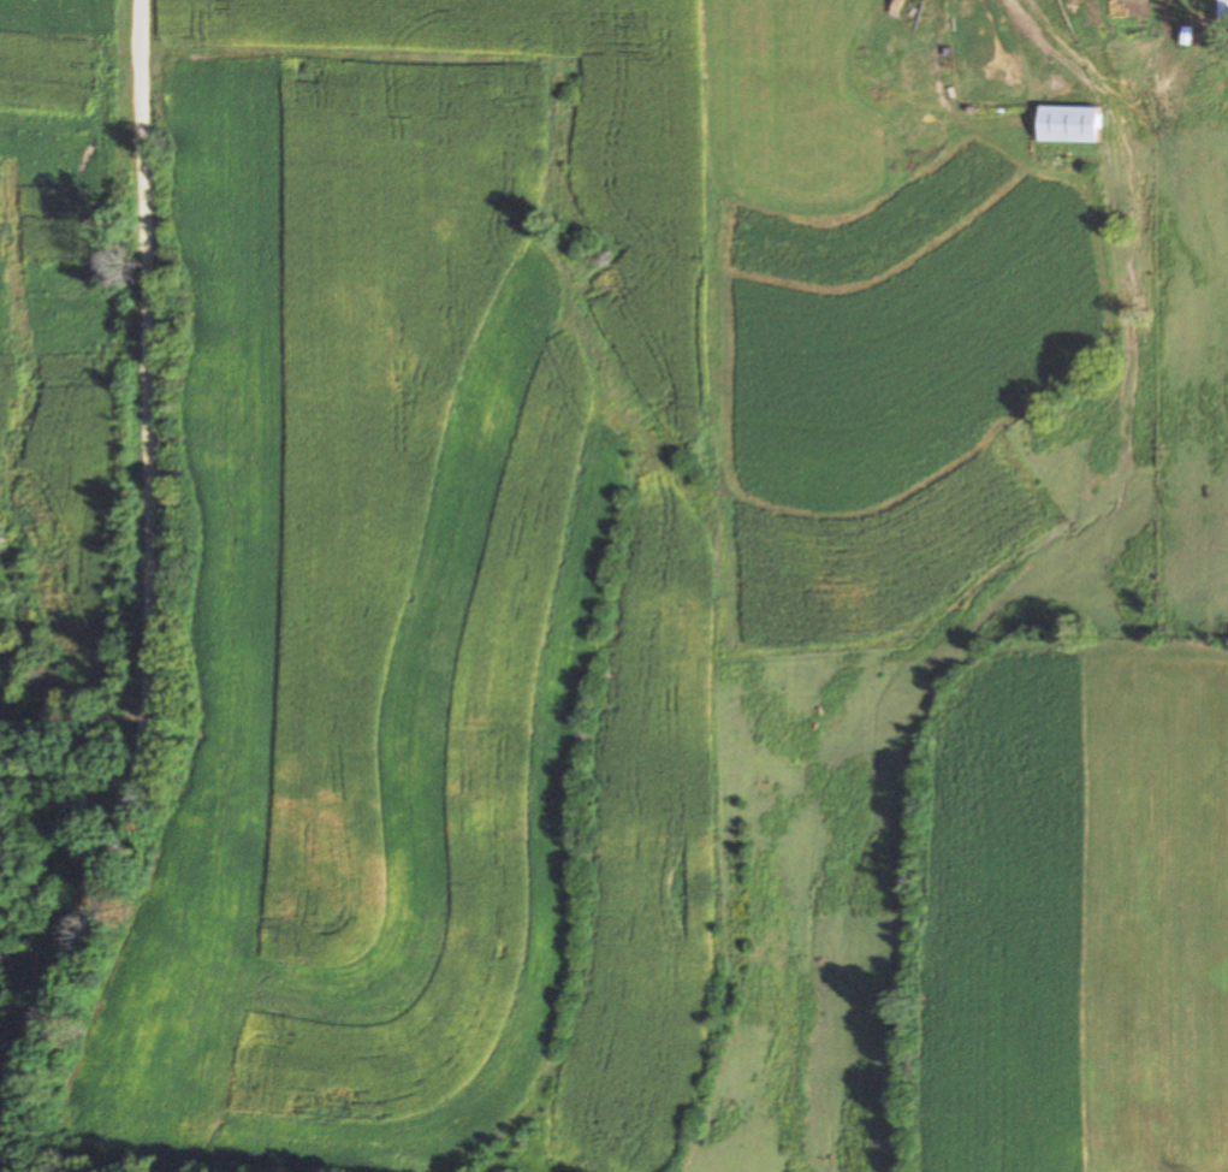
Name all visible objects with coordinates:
building: (1223, 8)
building: (1068, 124)
road: (150, 372)
road: (64, 955)

